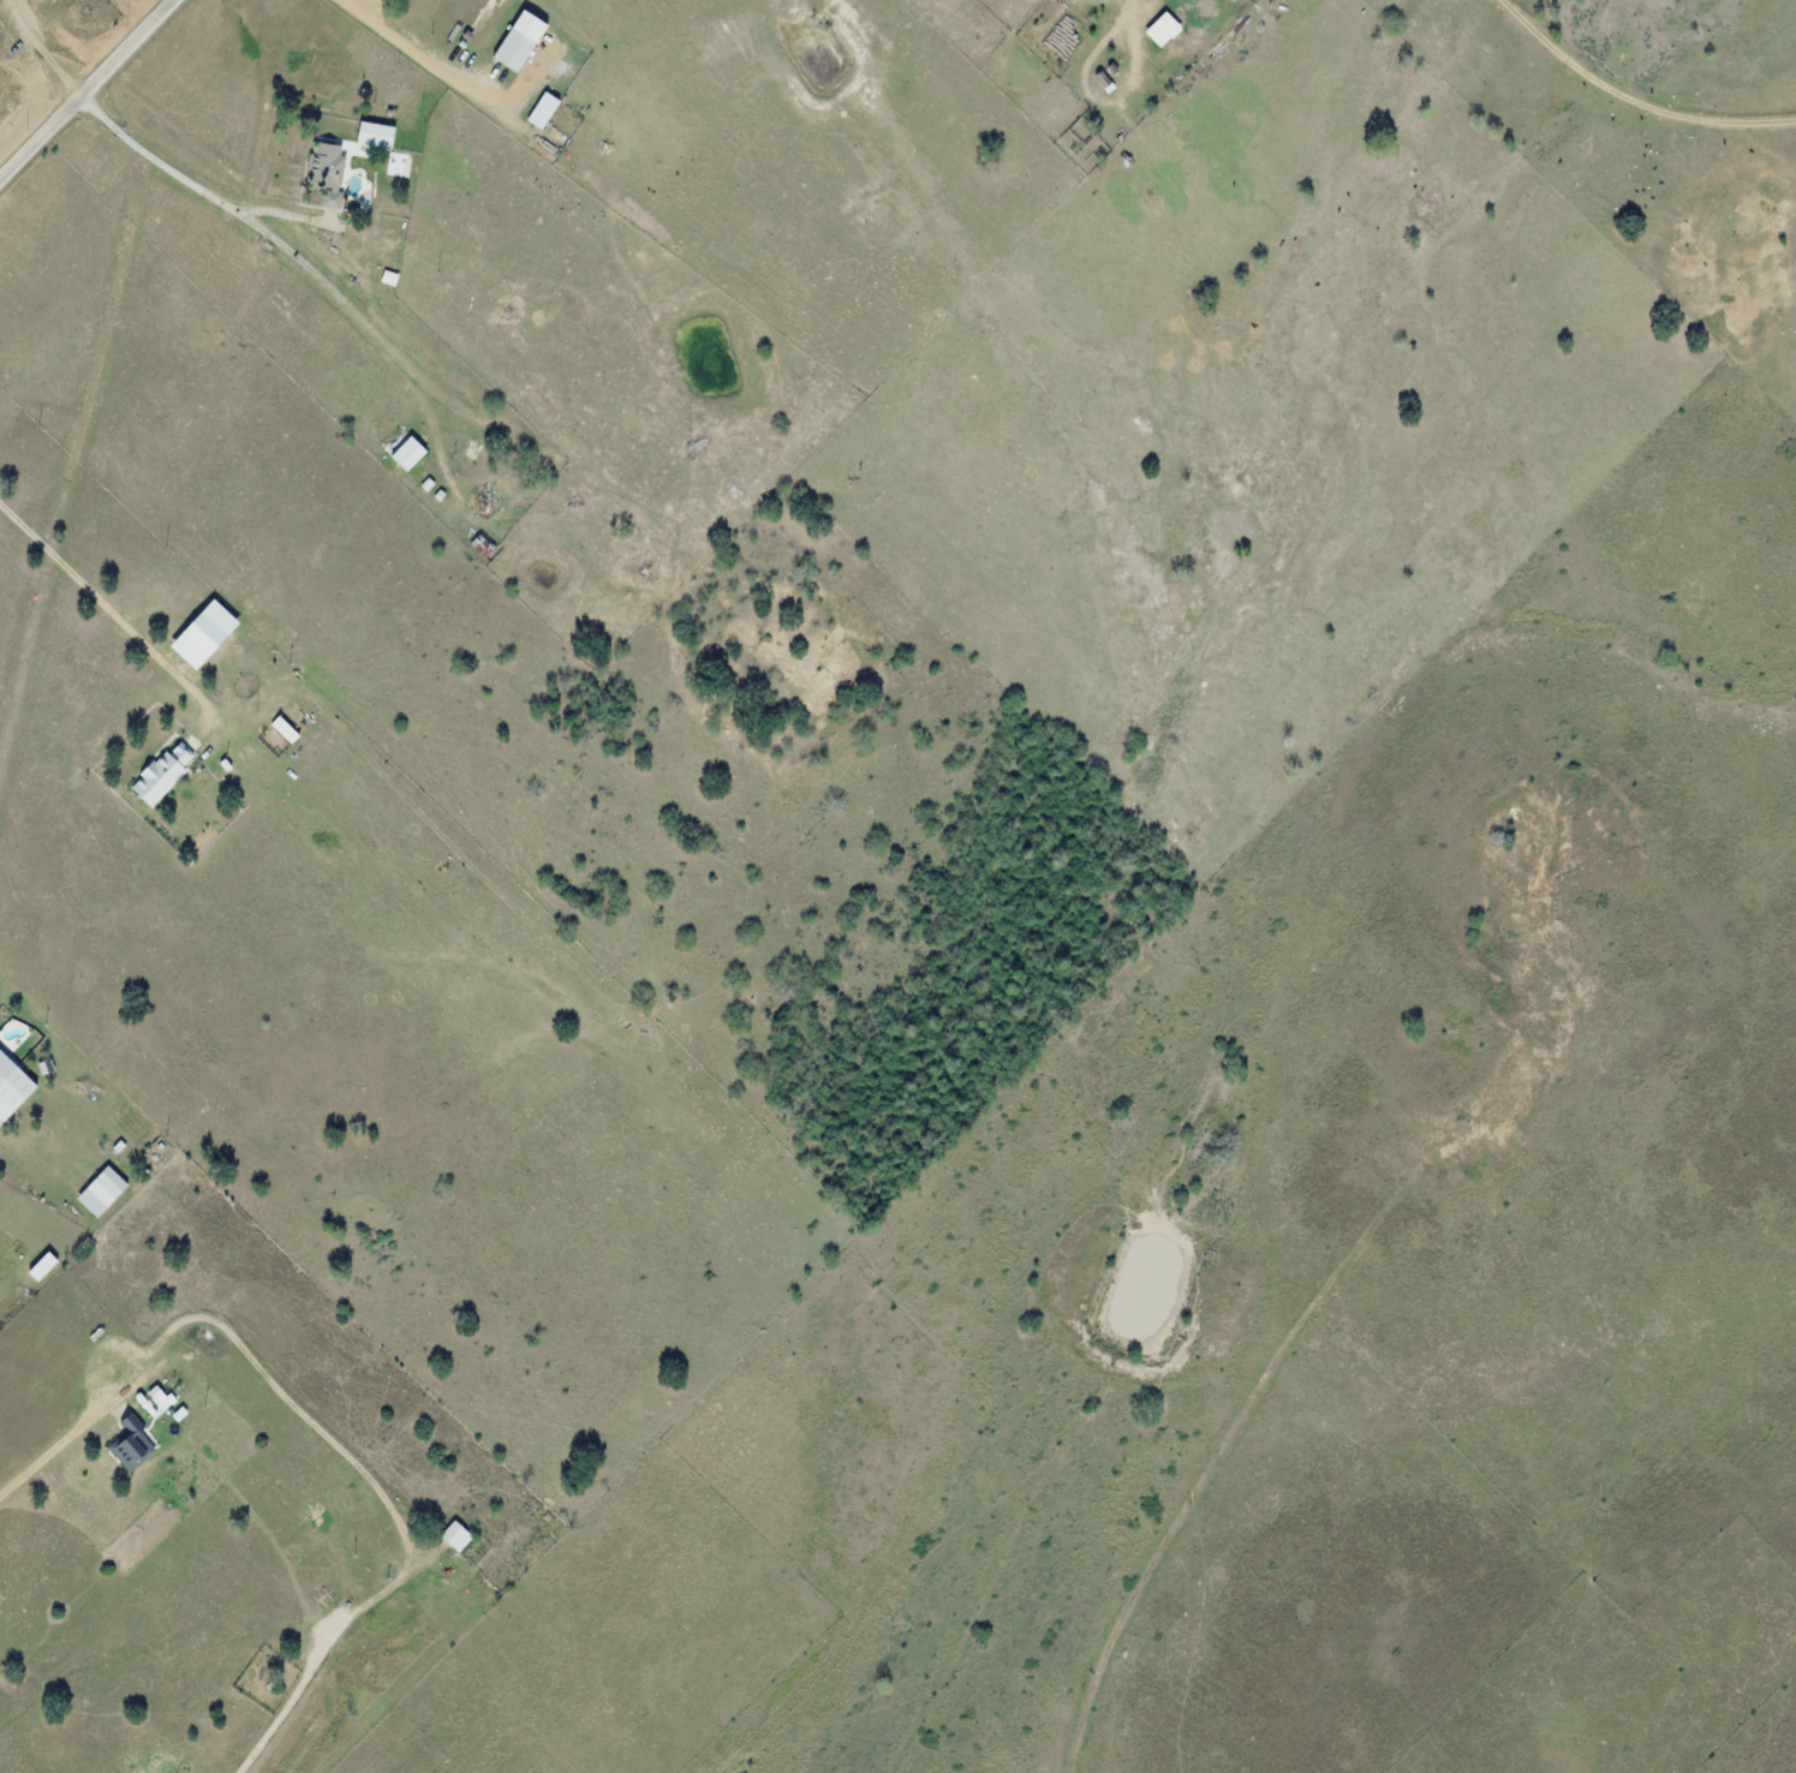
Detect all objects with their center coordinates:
building: (411, 10)
building: (1170, 26)
building: (519, 42)
road: (86, 89)
building: (548, 105)
road: (1619, 113)
building: (375, 135)
building: (328, 171)
building: (408, 454)
building: (483, 545)
building: (292, 722)
building: (162, 772)
building: (12, 1087)
building: (102, 1192)
building: (131, 1444)
building: (455, 1535)
building: (338, 1570)

